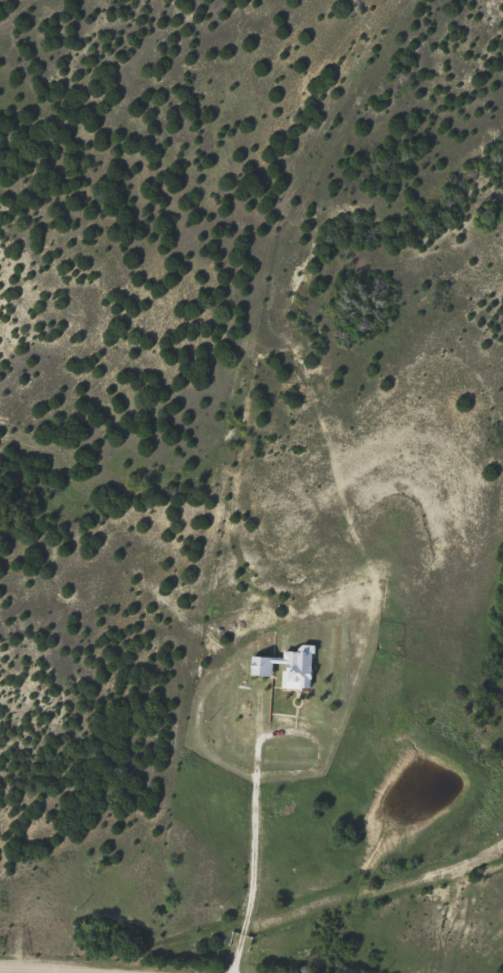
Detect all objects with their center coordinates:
road: (216, 658)
building: (289, 667)
road: (11, 971)
road: (24, 971)

